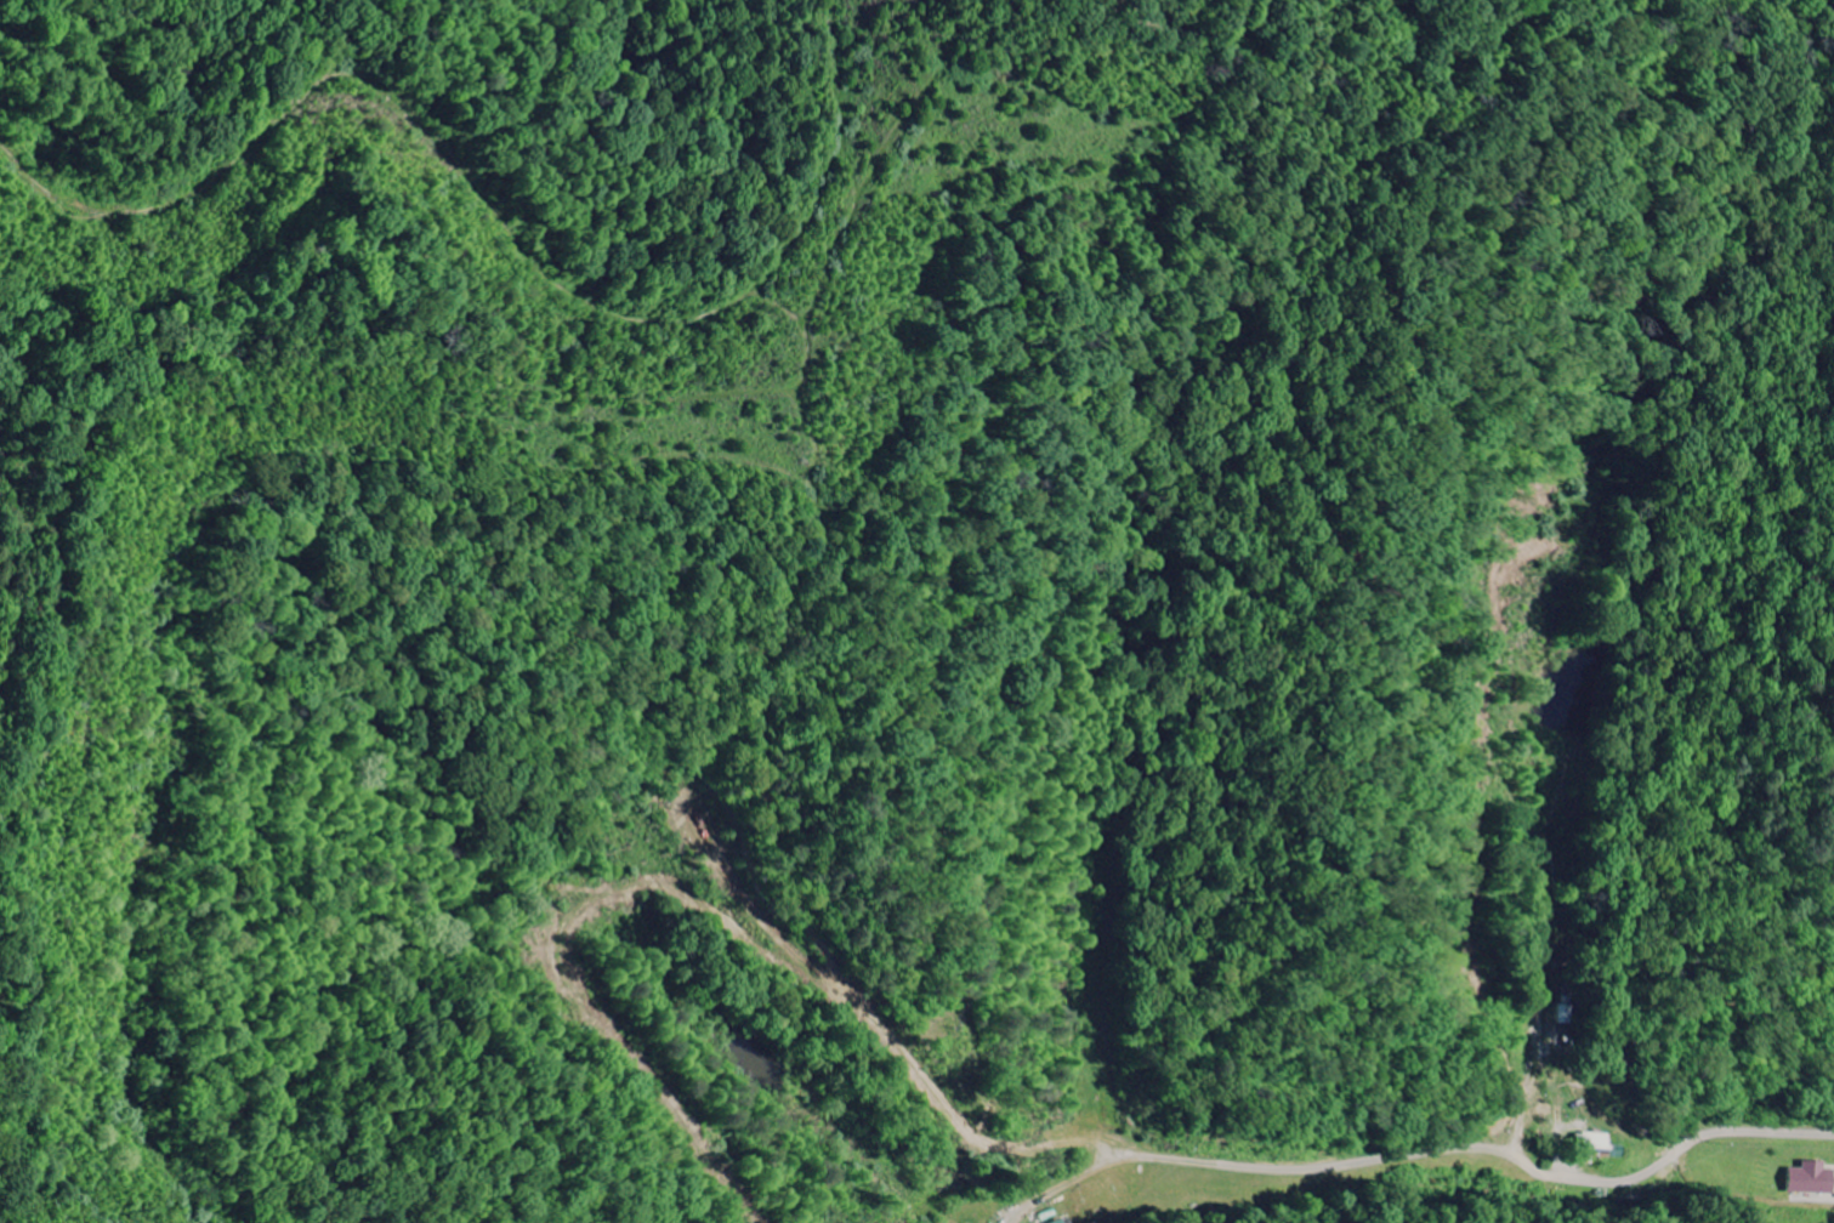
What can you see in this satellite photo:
building: (1588, 1147)
road: (1527, 1174)
building: (1806, 1183)

